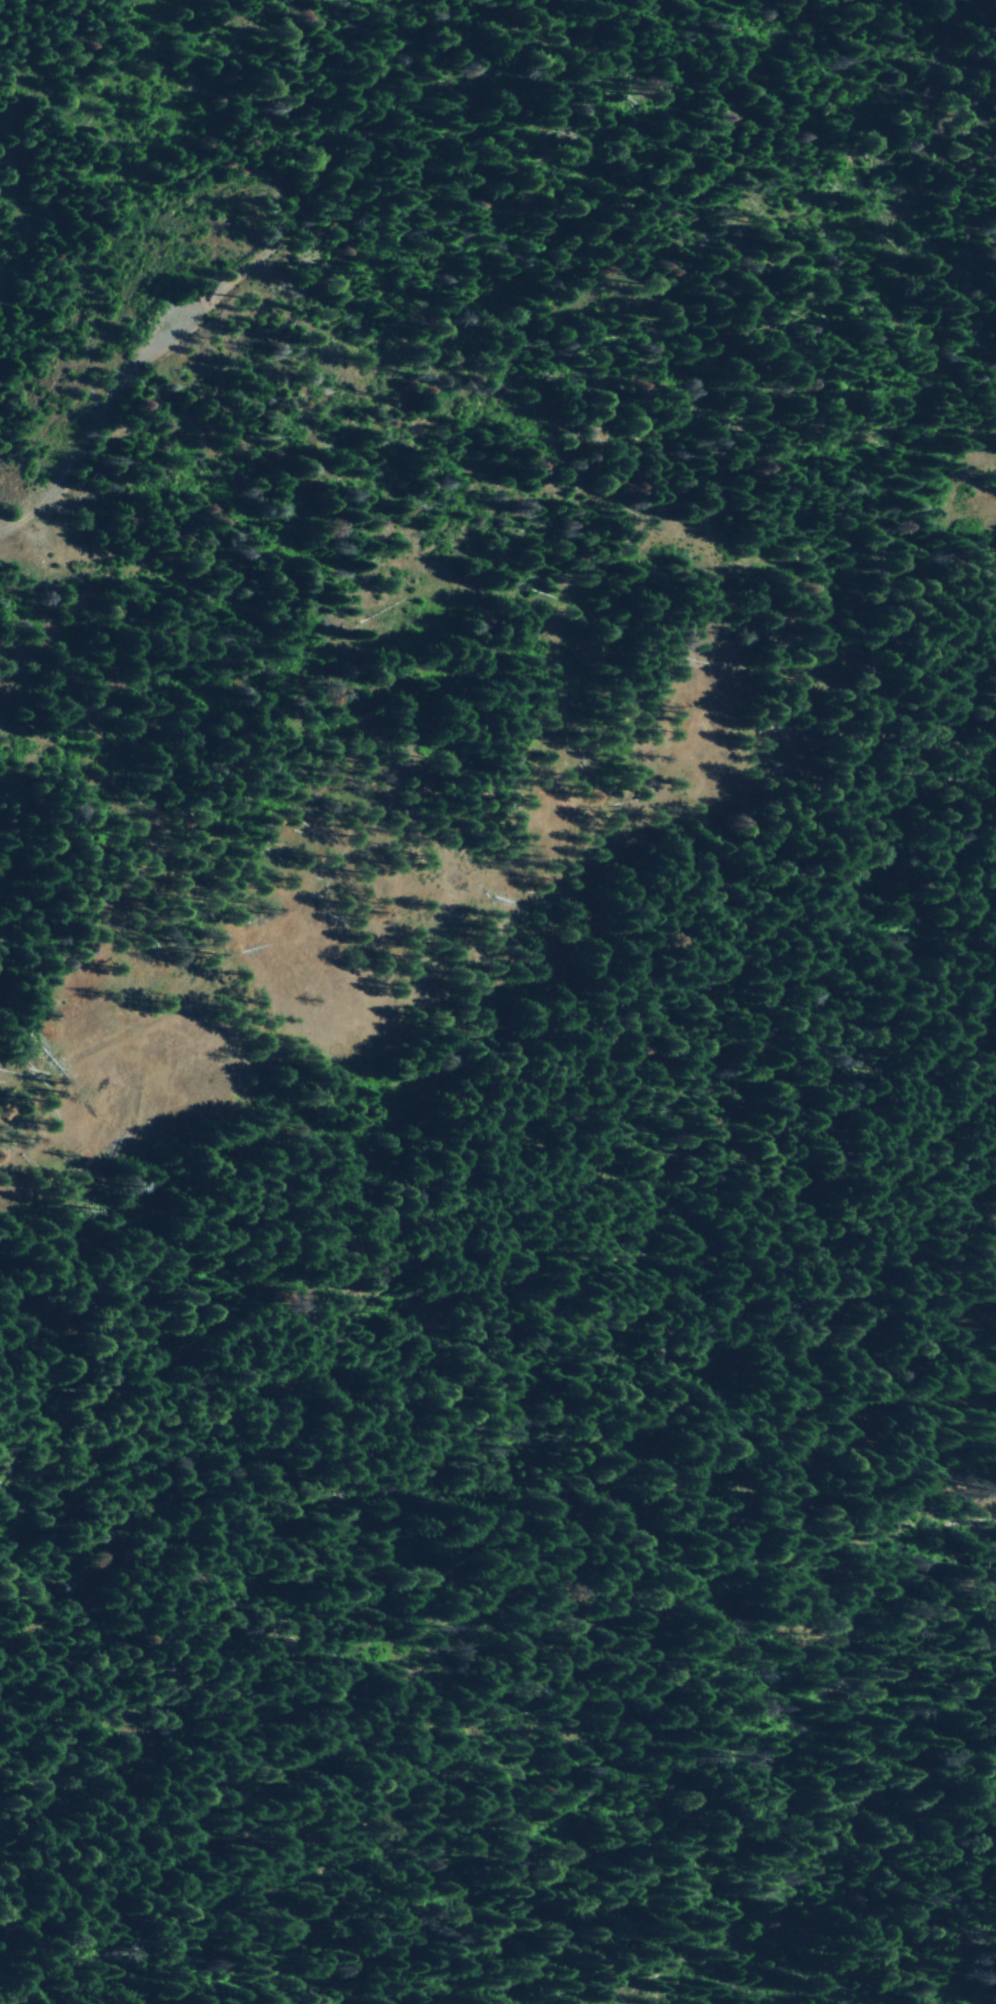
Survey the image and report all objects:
road: (97, 424)

